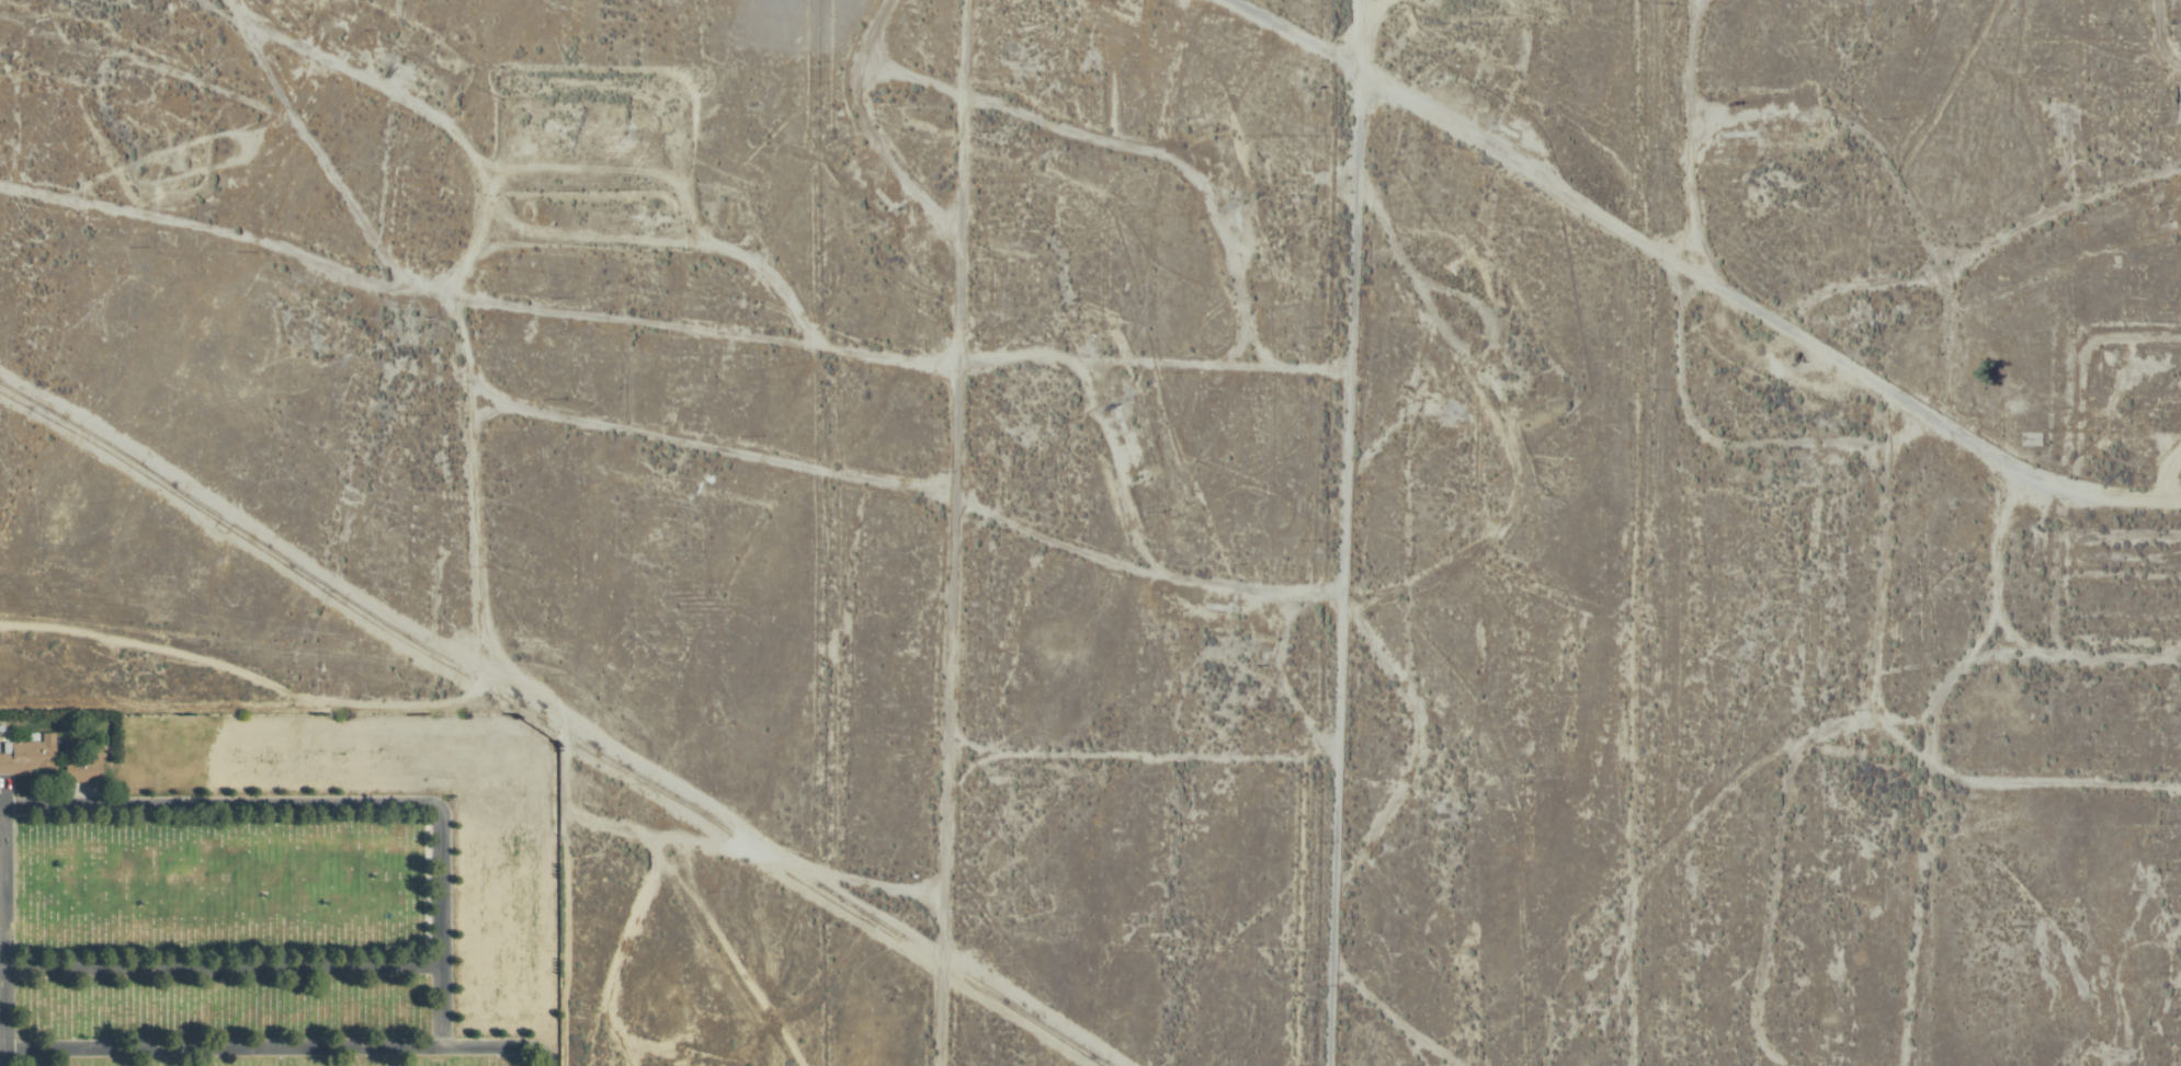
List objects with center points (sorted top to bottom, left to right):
building: (1134, 419)
road: (961, 532)
building: (29, 757)
building: (80, 771)
road: (223, 812)
park: (280, 891)
road: (277, 1054)
road: (9, 1061)

